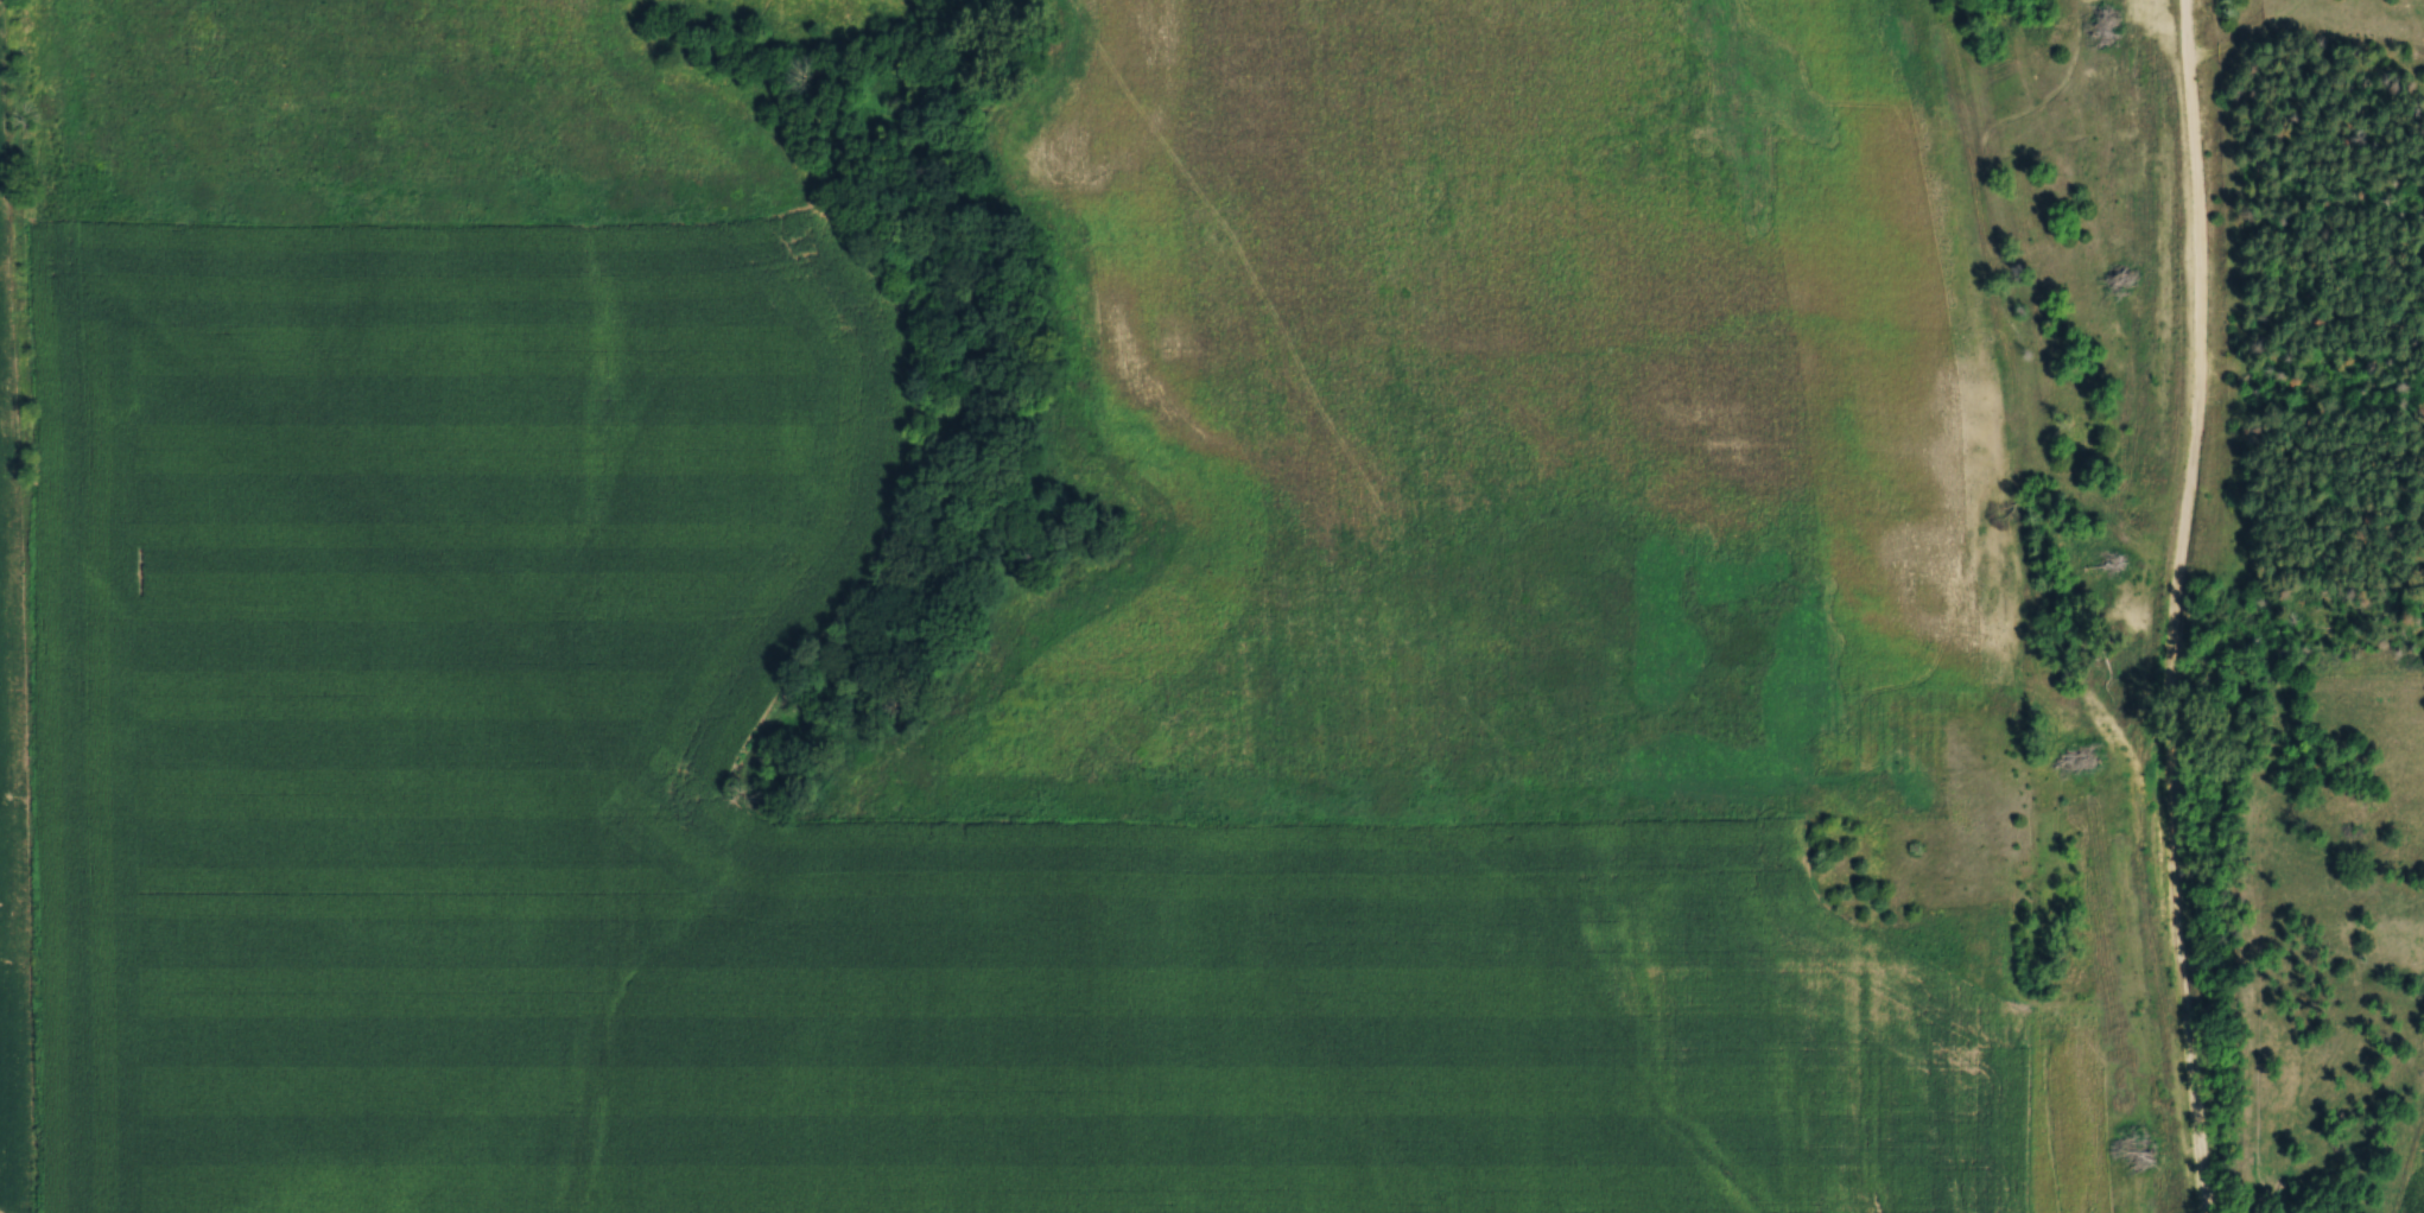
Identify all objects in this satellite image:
road: (2168, 606)

